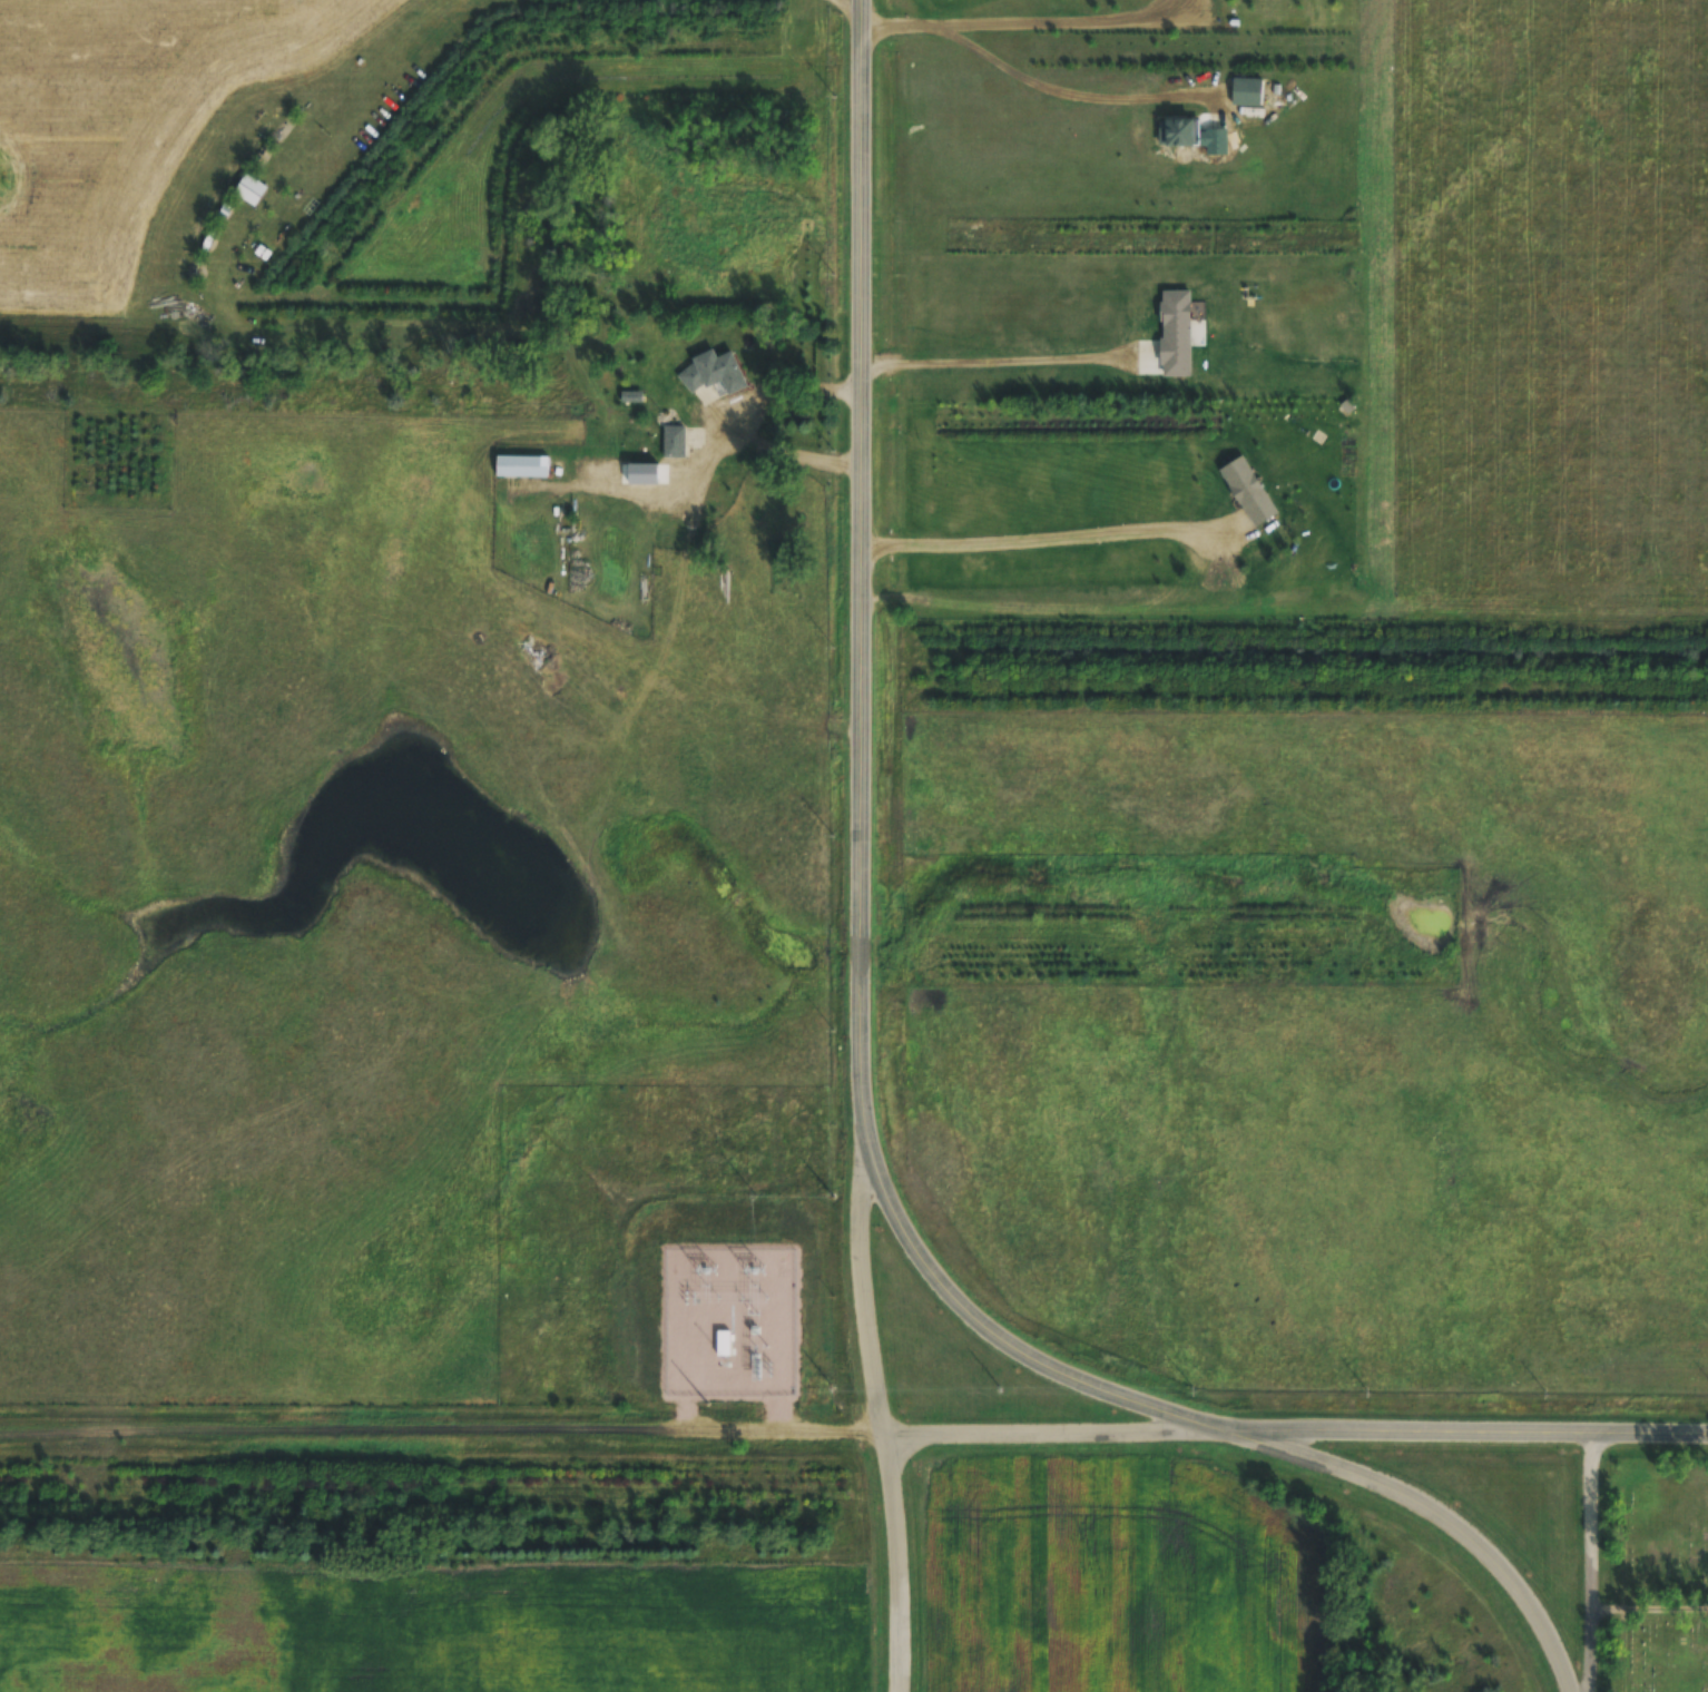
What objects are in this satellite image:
building: (1243, 89)
building: (1178, 132)
building: (713, 373)
building: (631, 396)
building: (674, 442)
building: (522, 466)
building: (608, 468)
road: (864, 798)
road: (875, 1239)
road: (1456, 1420)
road: (1046, 1423)
road: (443, 1427)
road: (1424, 1511)
road: (1596, 1557)
road: (899, 1558)

